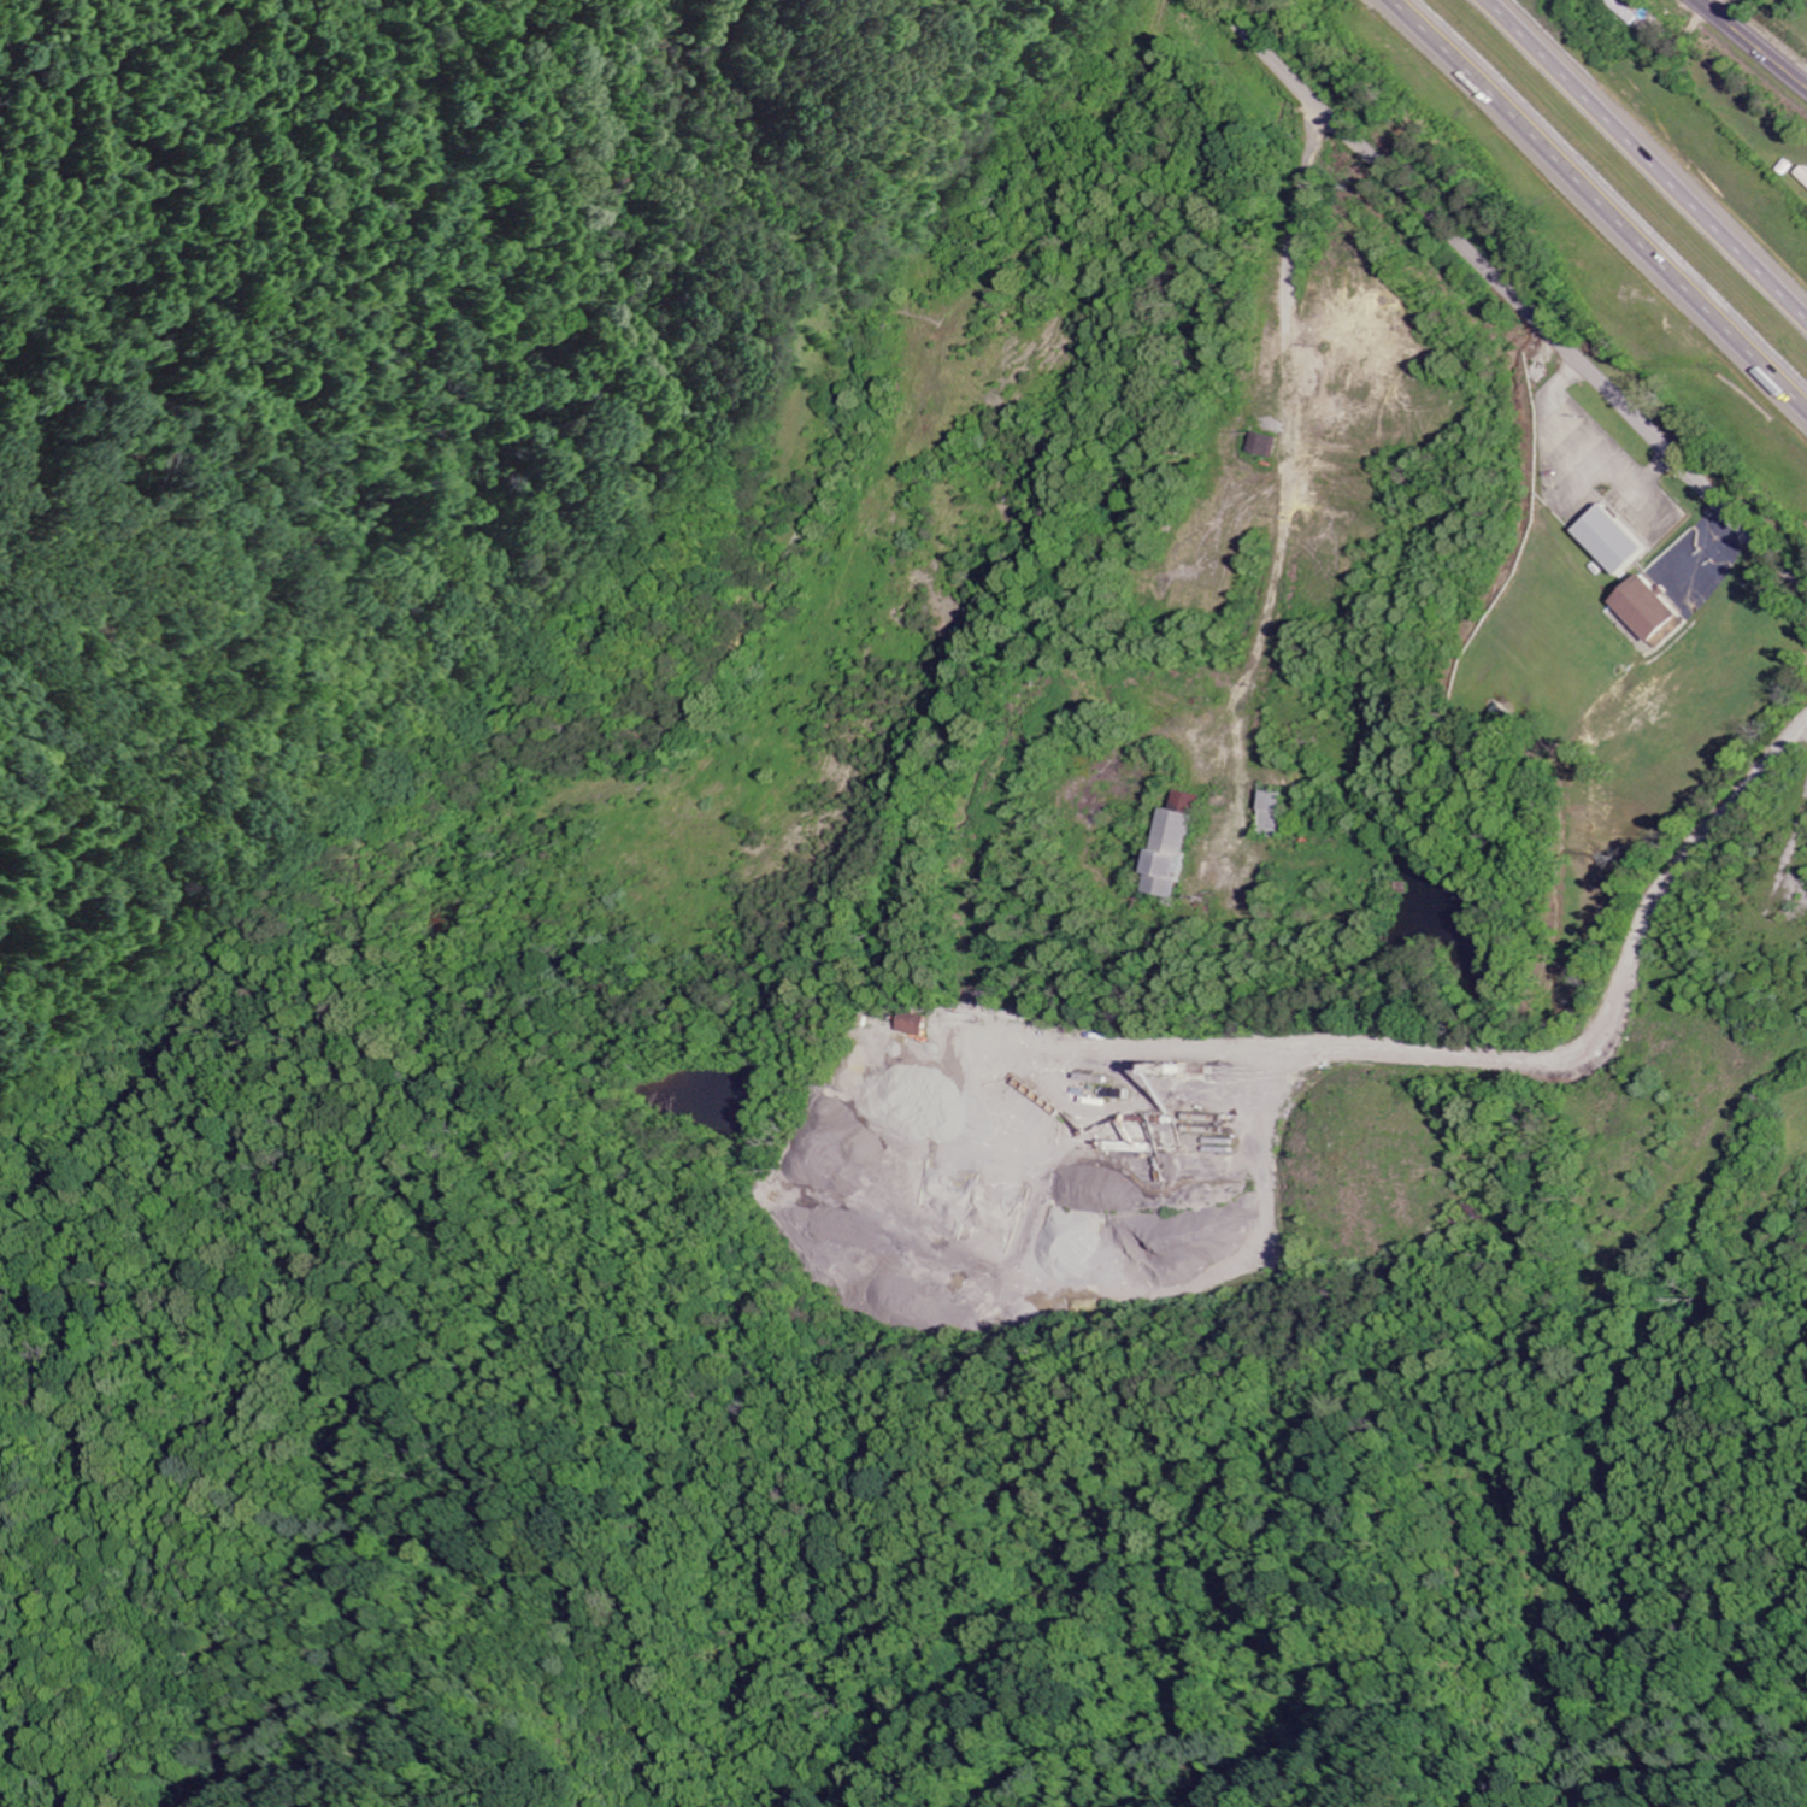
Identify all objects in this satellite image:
road: (1750, 45)
road: (1642, 164)
road: (1005, 170)
building: (1803, 176)
road: (1606, 200)
road: (1509, 299)
building: (1269, 447)
road: (1281, 532)
building: (1615, 542)
building: (1650, 610)
road: (858, 612)
building: (1276, 814)
building: (1182, 846)
road: (1611, 958)
building: (923, 1024)

